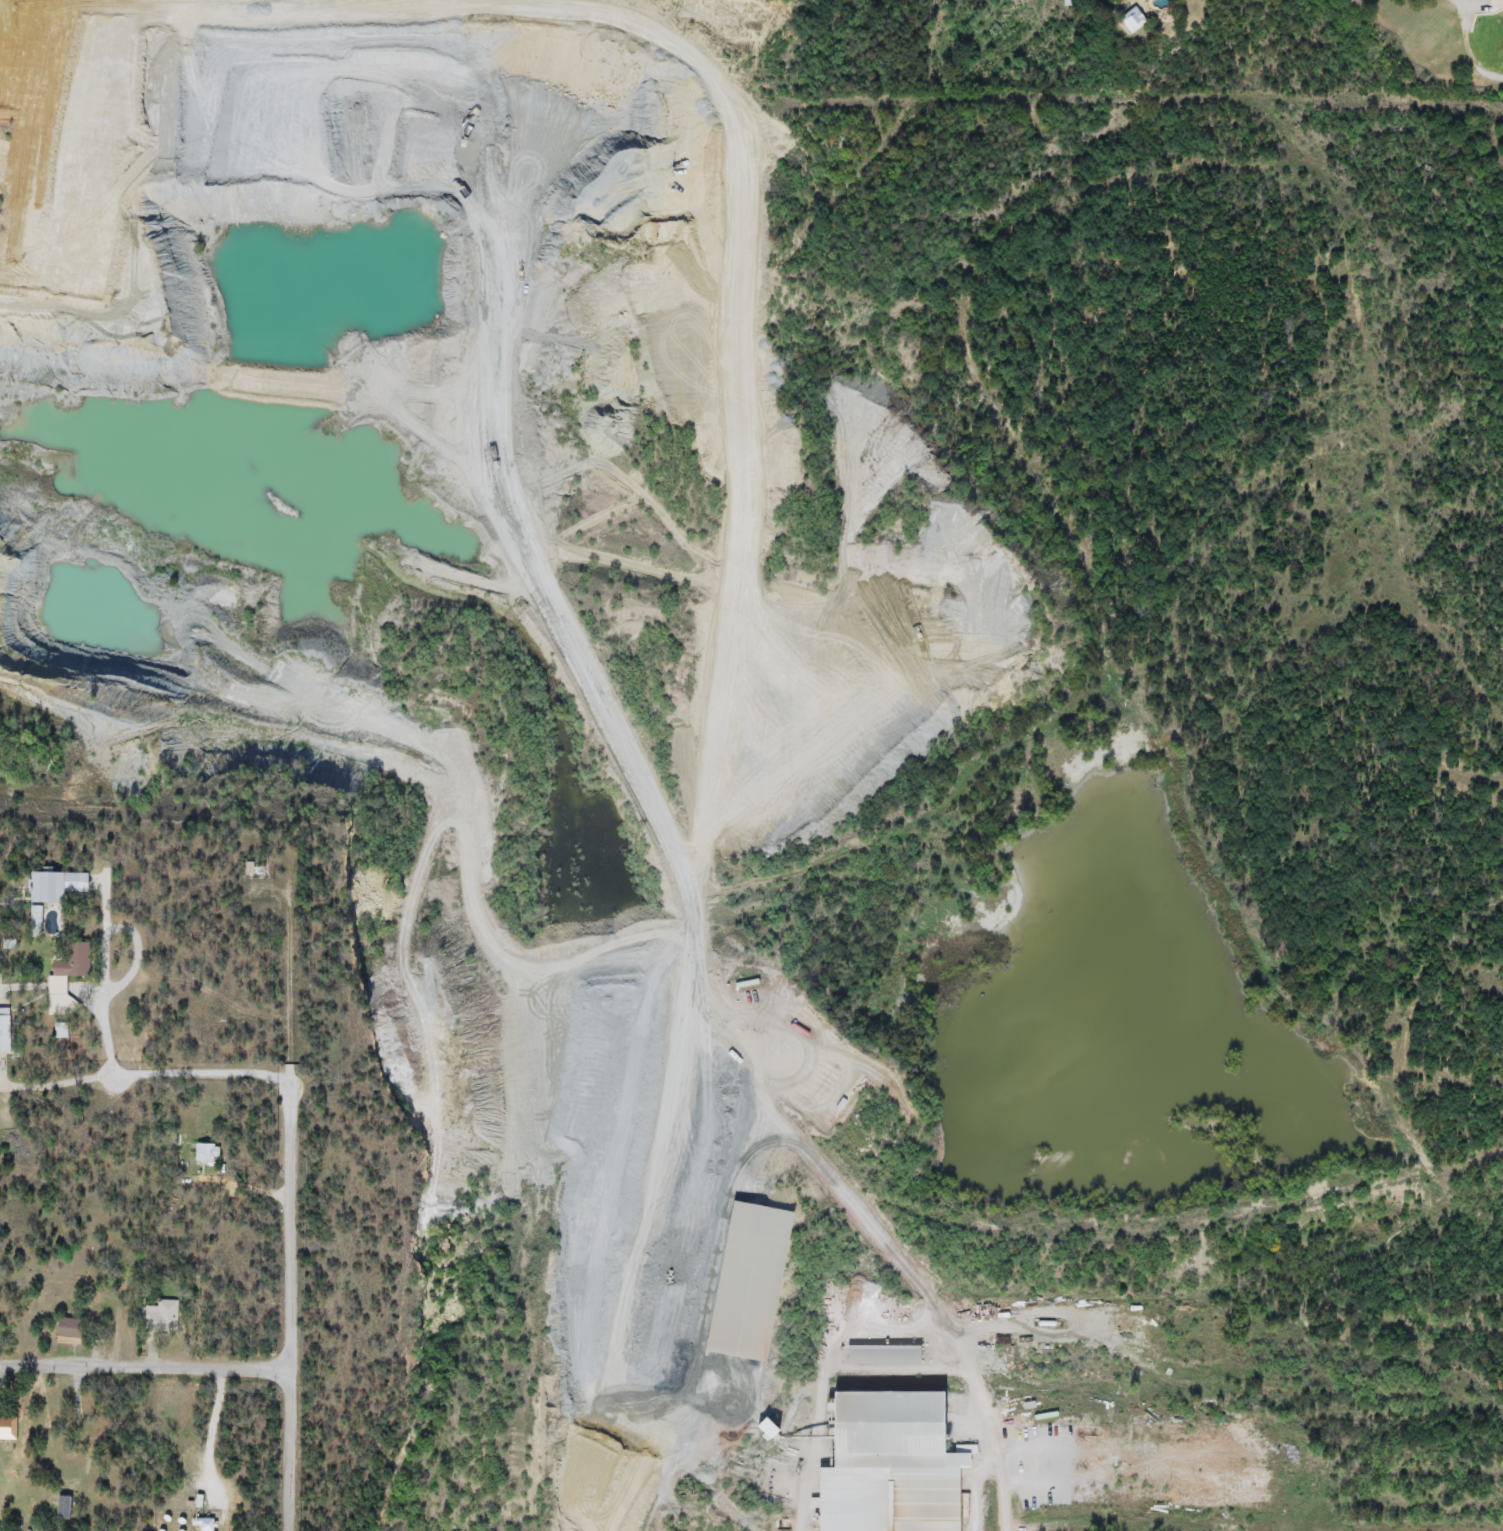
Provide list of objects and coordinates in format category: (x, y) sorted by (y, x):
building: (1130, 20)
road: (458, 468)
building: (56, 987)
building: (4, 1030)
road: (115, 1059)
road: (691, 1081)
building: (206, 1153)
road: (224, 1189)
road: (885, 1243)
building: (741, 1280)
road: (289, 1300)
building: (160, 1315)
building: (67, 1328)
building: (879, 1354)
road: (144, 1365)
building: (7, 1428)
building: (884, 1463)
road: (980, 1494)
building: (63, 1508)
road: (1252, 1523)
building: (203, 1525)
road: (1003, 1529)

